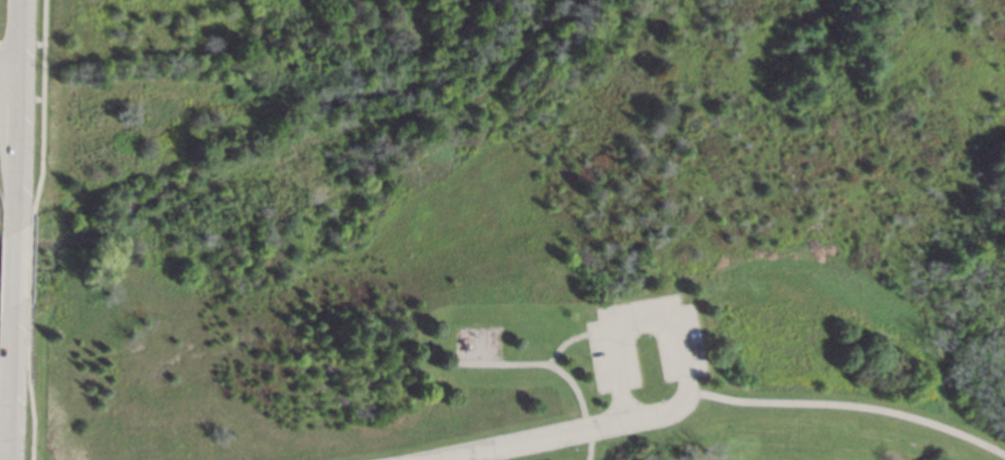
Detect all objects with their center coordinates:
road: (10, 72)
road: (19, 113)
park: (516, 230)
road: (16, 266)
road: (630, 316)
road: (575, 337)
parking lot: (645, 342)
road: (556, 368)
road: (12, 382)
road: (849, 407)
road: (573, 434)

